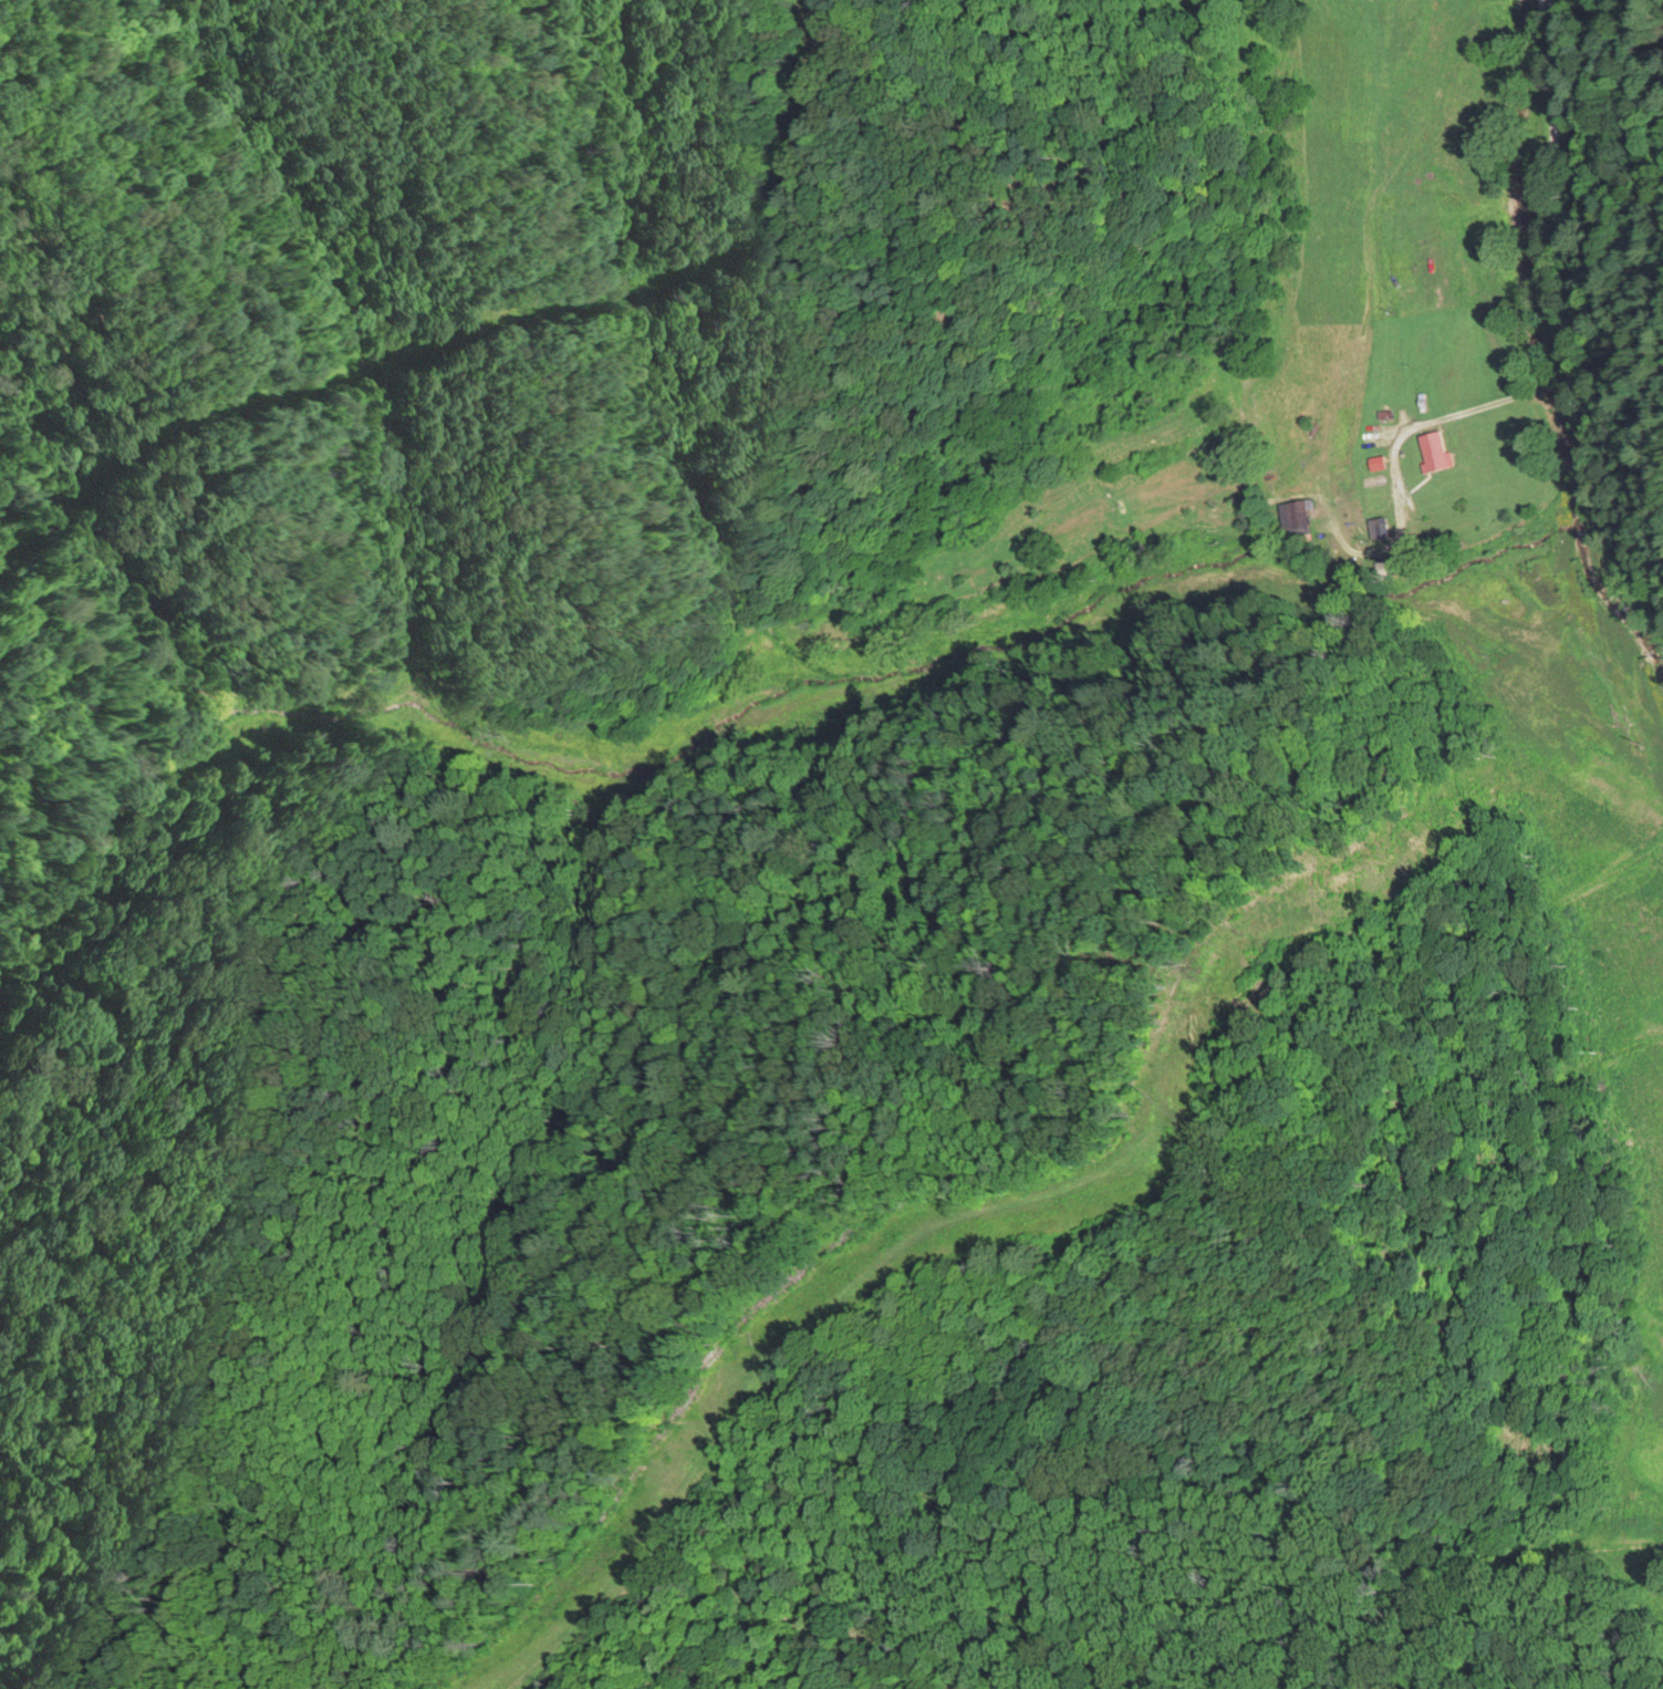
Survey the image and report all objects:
building: (1418, 358)
road: (1474, 385)
building: (1431, 448)
building: (1296, 516)
building: (1376, 526)

